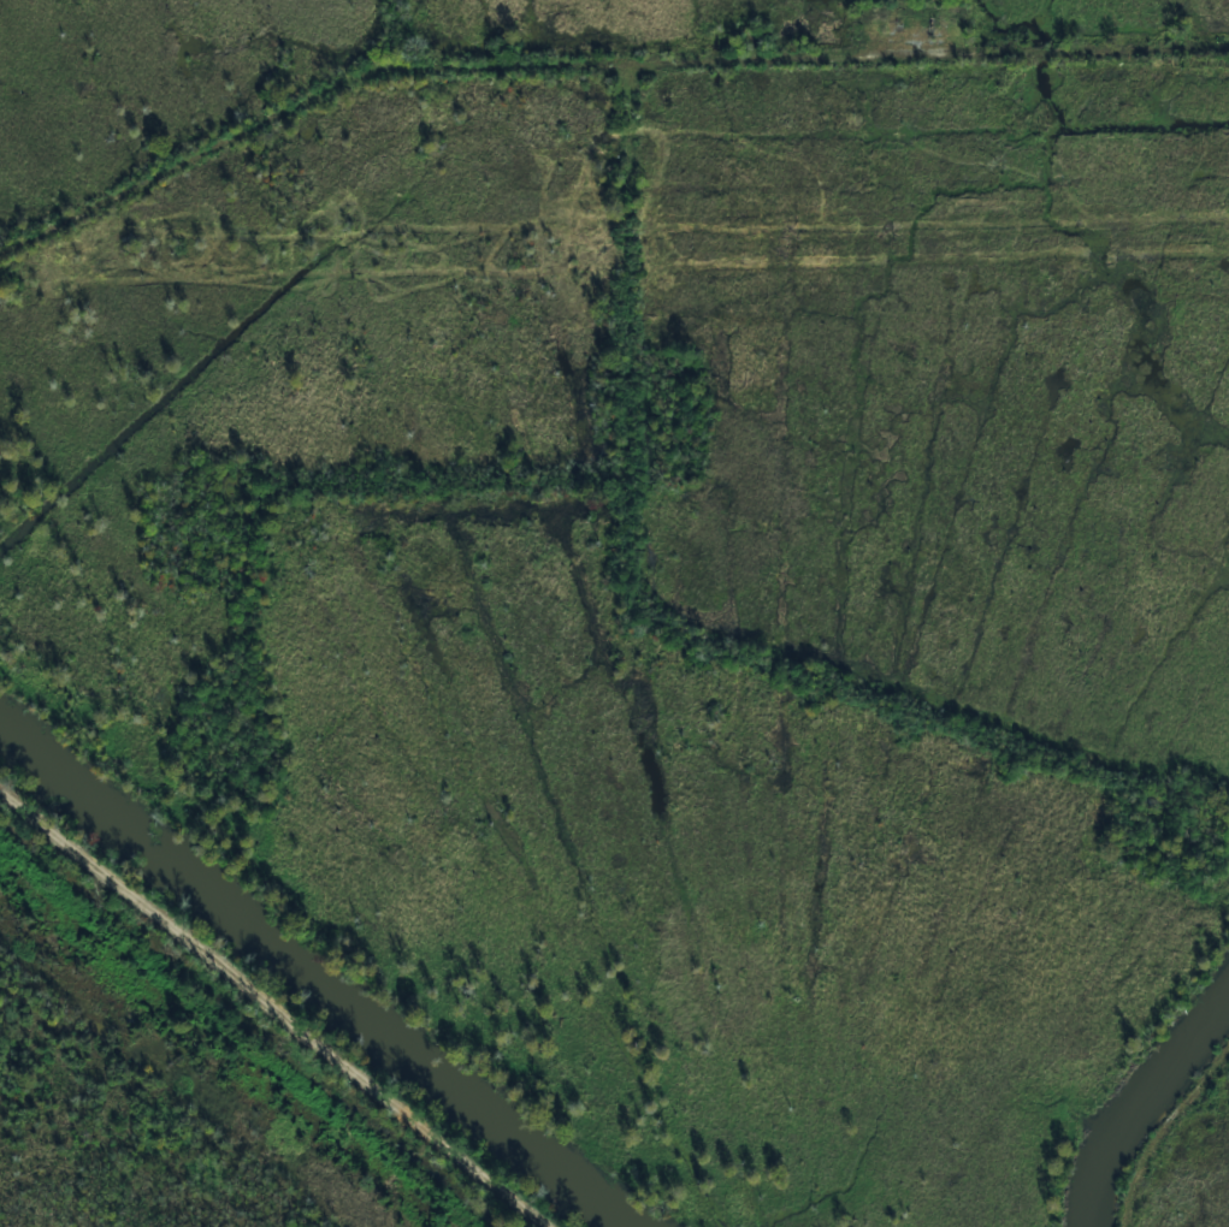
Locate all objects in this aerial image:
road: (283, 1002)
road: (1166, 1134)

